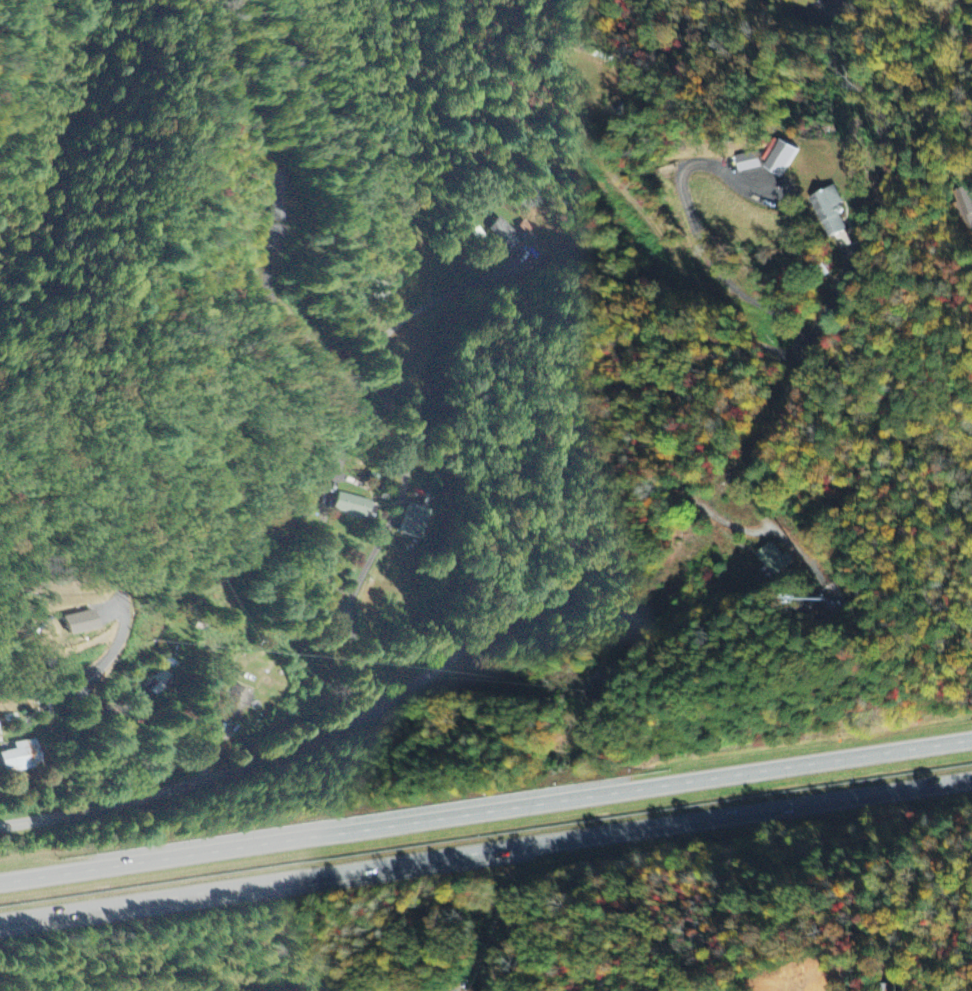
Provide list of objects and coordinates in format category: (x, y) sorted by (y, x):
building: (836, 9)
building: (775, 159)
building: (742, 162)
building: (281, 193)
building: (962, 202)
building: (828, 206)
building: (507, 230)
building: (532, 243)
building: (381, 289)
building: (379, 306)
road: (398, 326)
road: (733, 339)
road: (323, 357)
road: (635, 385)
building: (372, 476)
building: (355, 502)
road: (332, 514)
building: (414, 518)
building: (773, 555)
road: (361, 581)
building: (81, 624)
building: (153, 682)
building: (238, 700)
building: (0, 734)
road: (310, 737)
building: (22, 753)
road: (485, 809)
road: (486, 851)
building: (883, 987)

